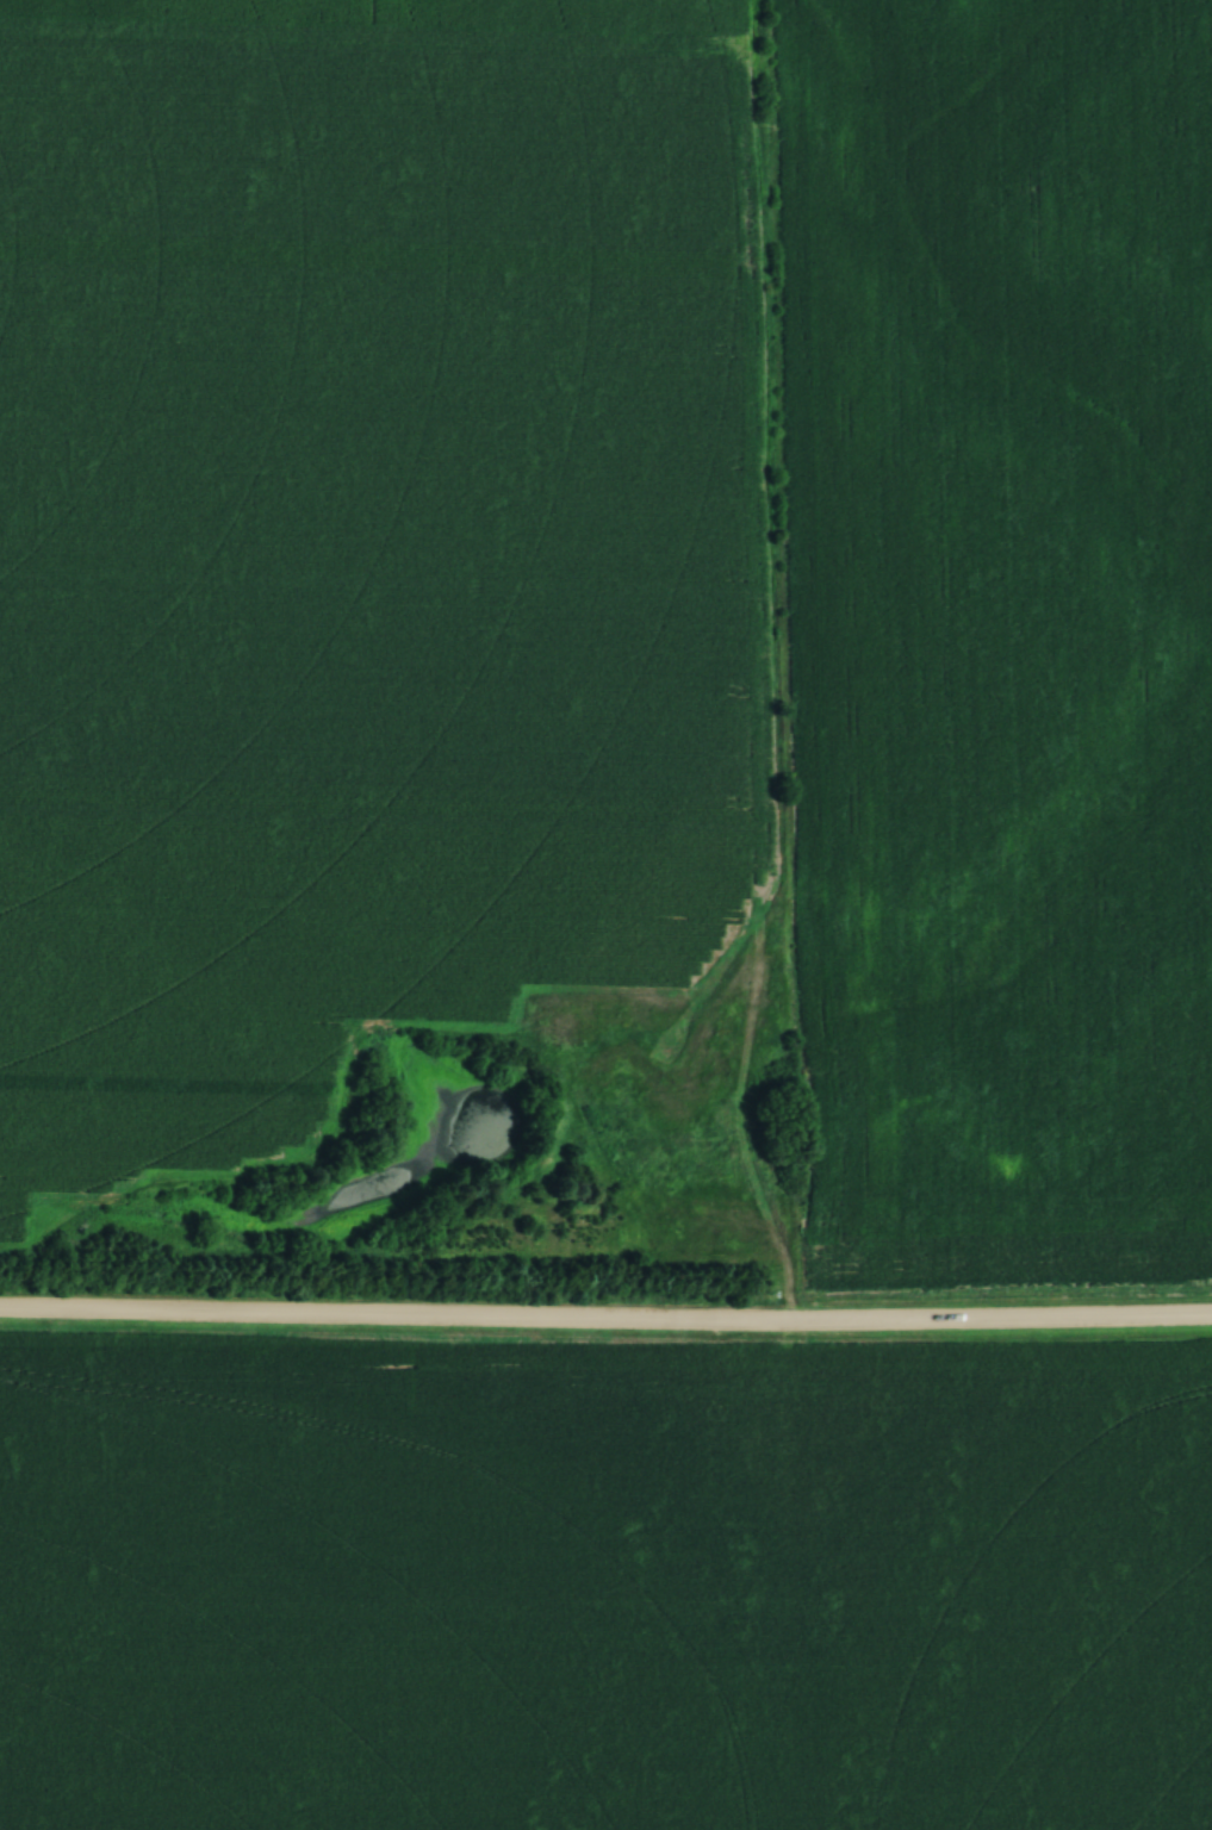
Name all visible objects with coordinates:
road: (605, 1322)

